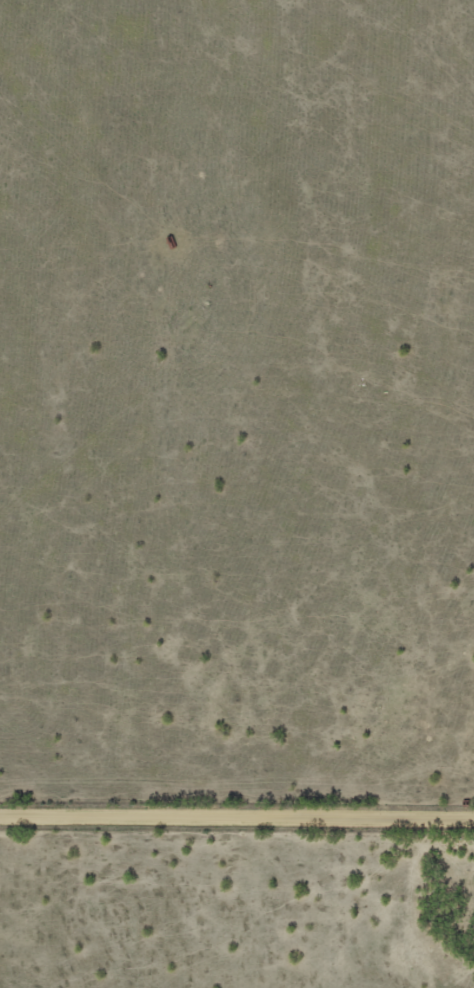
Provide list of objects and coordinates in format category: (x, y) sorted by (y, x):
road: (237, 799)

